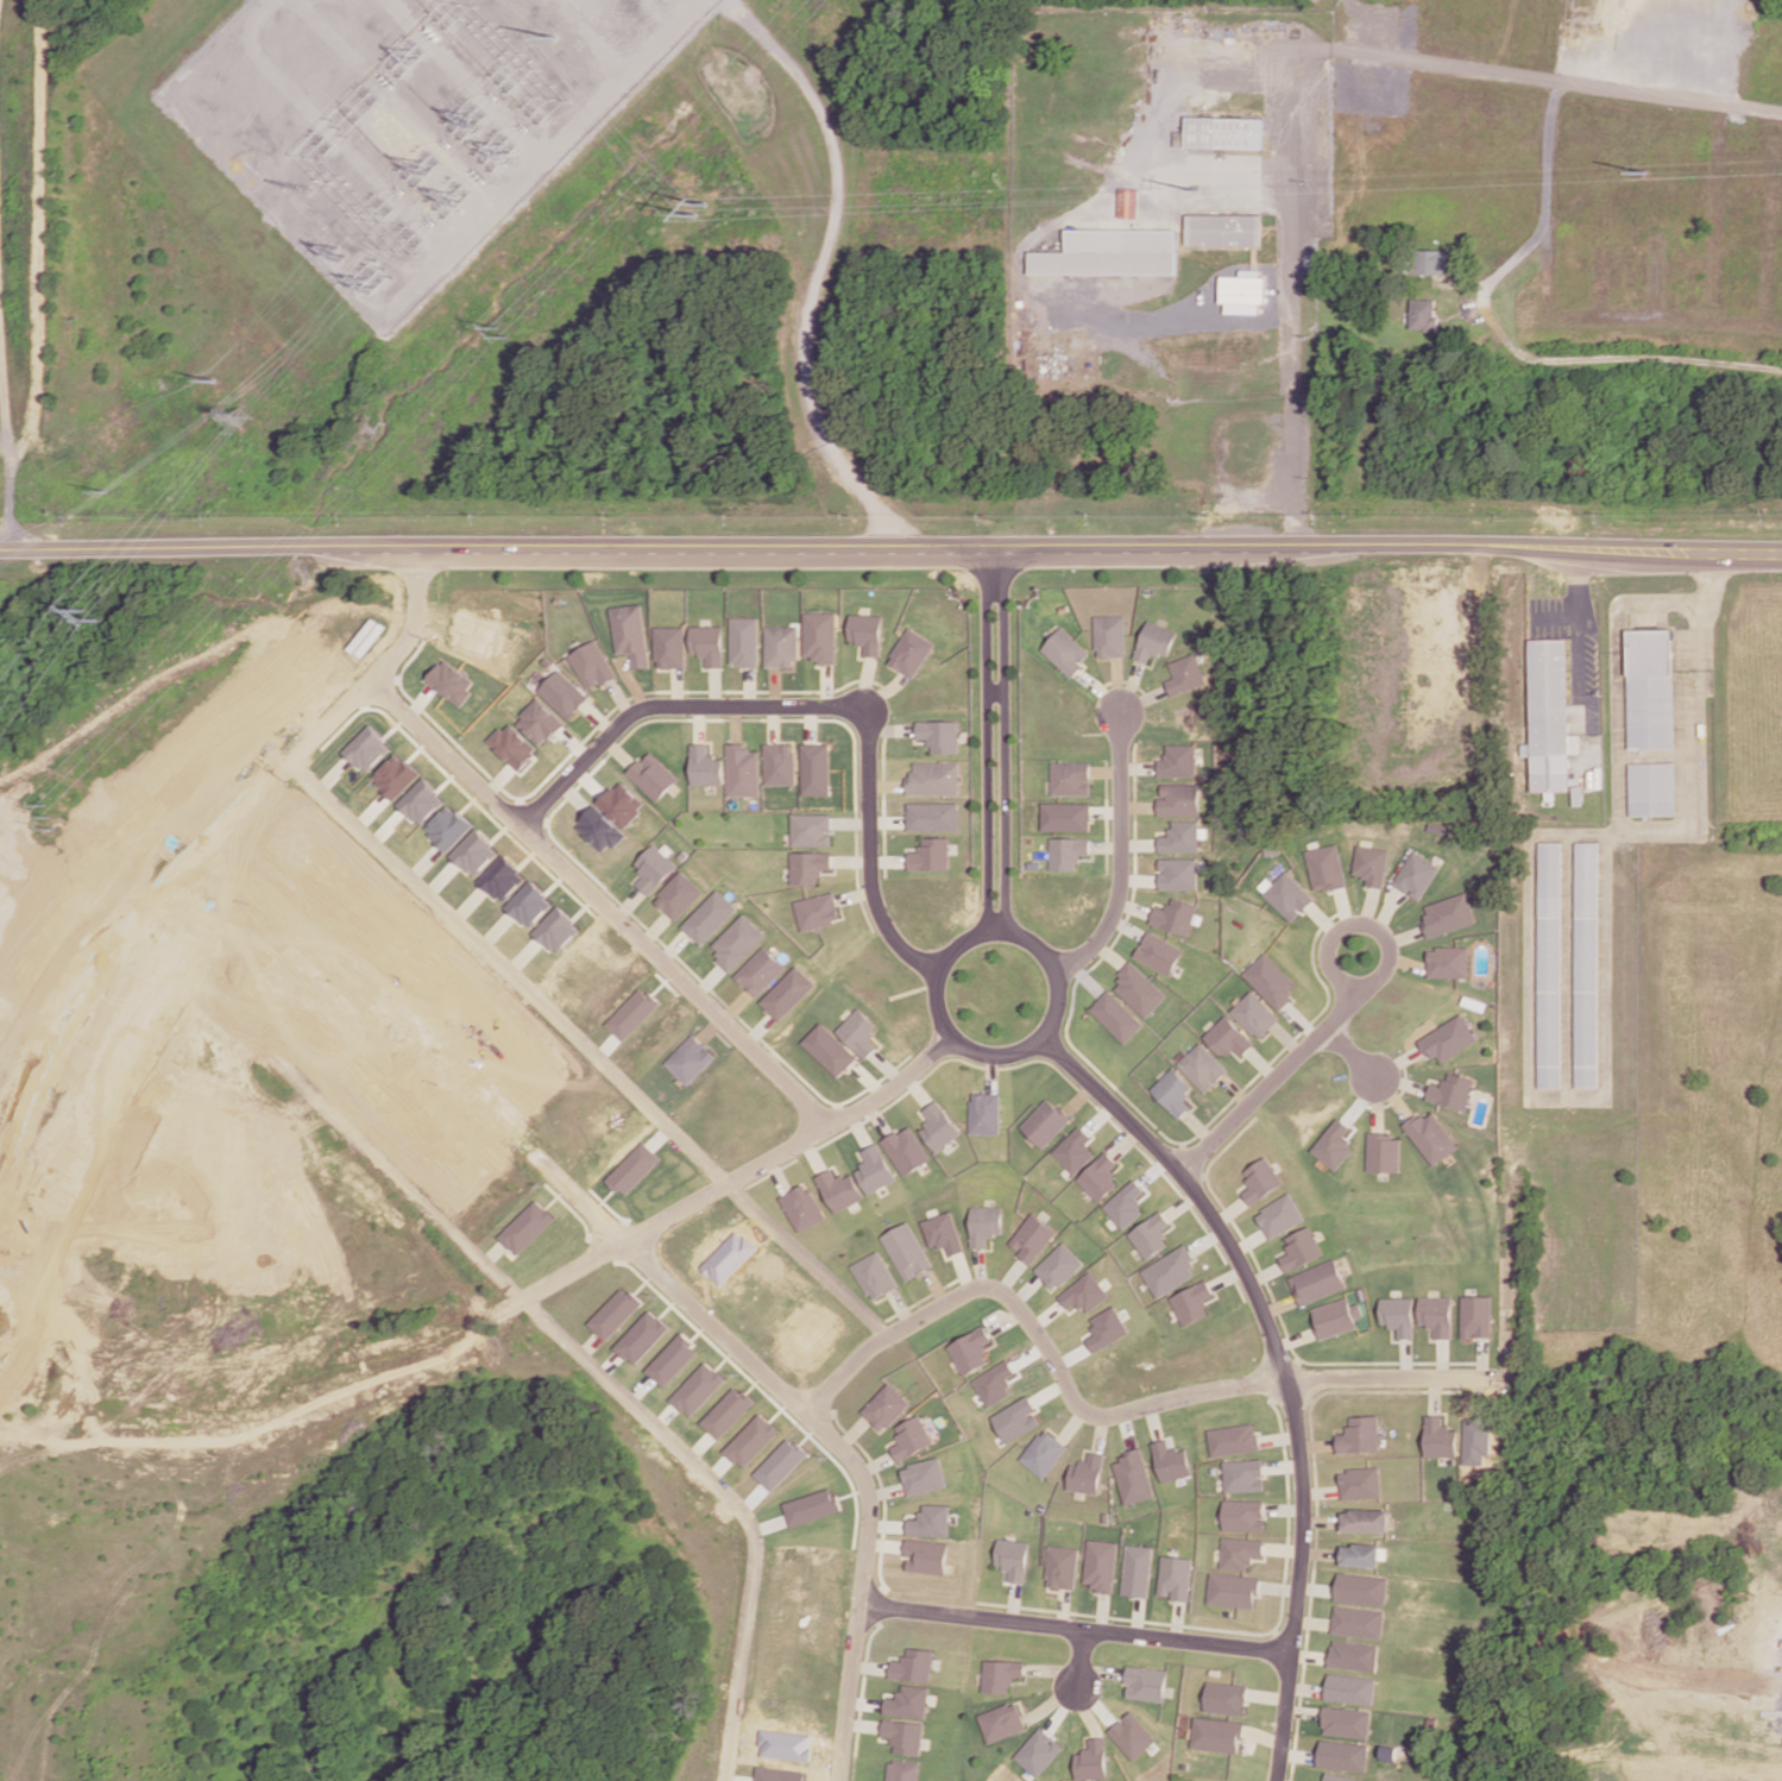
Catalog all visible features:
road: (1285, 59)
road: (1442, 65)
power substation: (409, 118)
building: (1223, 132)
road: (1286, 162)
power tower: (1646, 175)
power tower: (1198, 187)
building: (1128, 202)
power tower: (709, 218)
building: (1223, 229)
road: (1524, 247)
building: (1110, 252)
power tower: (338, 254)
building: (1425, 262)
power tower: (364, 284)
building: (1243, 291)
building: (1423, 314)
power tower: (502, 334)
power tower: (208, 378)
power tower: (238, 417)
power tower: (106, 489)
road: (890, 547)
road: (1578, 600)
power tower: (96, 615)
building: (864, 633)
building: (630, 634)
building: (1112, 635)
building: (819, 636)
building: (744, 641)
building: (1158, 641)
building: (709, 643)
building: (670, 646)
building: (781, 646)
building: (1065, 652)
building: (908, 653)
building: (590, 665)
building: (1188, 674)
building: (448, 681)
building: (1649, 688)
road: (994, 690)
building: (561, 693)
road: (668, 705)
building: (1549, 716)
building: (537, 722)
building: (937, 735)
road: (984, 742)
road: (1005, 743)
building: (511, 745)
building: (366, 748)
building: (1180, 761)
building: (779, 763)
building: (704, 766)
building: (814, 769)
building: (742, 770)
building: (395, 775)
building: (650, 775)
building: (1070, 778)
building: (931, 779)
building: (1651, 788)
building: (1182, 799)
building: (421, 801)
building: (619, 803)
building: (930, 816)
building: (1065, 816)
power tower: (50, 817)
building: (448, 826)
road: (1642, 826)
building: (598, 829)
building: (808, 829)
building: (1183, 837)
road: (204, 851)
building: (476, 852)
building: (1066, 852)
building: (927, 854)
road: (1119, 855)
road: (867, 858)
building: (1371, 864)
building: (806, 867)
building: (1327, 867)
building: (650, 868)
building: (1179, 873)
building: (1415, 875)
building: (502, 879)
building: (1289, 894)
building: (675, 895)
road: (598, 902)
building: (528, 904)
building: (813, 911)
building: (1447, 914)
building: (1177, 915)
building: (705, 917)
building: (555, 930)
building: (732, 942)
building: (1160, 952)
building: (1447, 962)
building: (1548, 964)
building: (1586, 964)
road: (509, 971)
building: (756, 971)
road: (1335, 974)
building: (1272, 981)
building: (1139, 989)
building: (783, 993)
building: (629, 1013)
building: (1257, 1014)
building: (1116, 1017)
building: (856, 1032)
road: (959, 1033)
building: (1229, 1037)
building: (1448, 1038)
building: (825, 1050)
road: (1348, 1055)
building: (688, 1059)
building: (1203, 1066)
road: (1271, 1081)
building: (1452, 1090)
building: (1173, 1091)
building: (983, 1113)
building: (1044, 1122)
building: (936, 1126)
building: (1431, 1137)
building: (1336, 1144)
building: (903, 1150)
building: (1072, 1150)
building: (1385, 1152)
building: (634, 1169)
building: (873, 1169)
road: (731, 1177)
building: (1097, 1177)
building: (1261, 1179)
building: (838, 1190)
building: (1125, 1204)
building: (801, 1207)
building: (1280, 1215)
building: (983, 1223)
building: (528, 1226)
building: (940, 1232)
building: (1150, 1234)
building: (1031, 1238)
building: (1302, 1248)
building: (903, 1251)
road: (804, 1258)
road: (650, 1263)
building: (1058, 1265)
building: (1169, 1270)
building: (871, 1275)
building: (1318, 1280)
building: (1084, 1292)
building: (1191, 1302)
building: (615, 1313)
building: (1398, 1315)
building: (1435, 1315)
building: (1336, 1316)
building: (1474, 1316)
building: (1107, 1328)
road: (396, 1334)
building: (642, 1338)
building: (969, 1349)
building: (670, 1359)
road: (1283, 1364)
building: (993, 1383)
building: (695, 1389)
road: (240, 1398)
building: (883, 1406)
building: (724, 1411)
road: (1090, 1412)
building: (1014, 1418)
building: (1360, 1434)
building: (909, 1437)
building: (1440, 1437)
building: (1233, 1439)
building: (749, 1440)
building: (1478, 1440)
building: (1043, 1453)
building: (1171, 1461)
building: (777, 1464)
building: (1085, 1474)
building: (921, 1475)
building: (1243, 1475)
building: (1133, 1477)
building: (1360, 1483)
road: (728, 1502)
building: (808, 1506)
building: (1243, 1515)
building: (1365, 1519)
building: (928, 1521)
building: (1240, 1552)
building: (1360, 1554)
building: (924, 1556)
building: (1009, 1559)
building: (1098, 1565)
building: (1059, 1567)
building: (1135, 1571)
building: (1175, 1577)
building: (1361, 1588)
building: (1233, 1590)
building: (1358, 1622)
road: (1069, 1629)
building: (1354, 1655)
road: (1079, 1659)
building: (913, 1664)
building: (999, 1674)
building: (1145, 1684)
building: (1350, 1688)
building: (1224, 1698)
building: (908, 1701)
building: (1001, 1722)
building: (1347, 1722)
building: (1132, 1735)
building: (1216, 1735)
building: (905, 1736)
building: (1038, 1751)
building: (1342, 1755)
building: (1091, 1760)
building: (903, 1770)
building: (779, 1774)
building: (1337, 1777)

